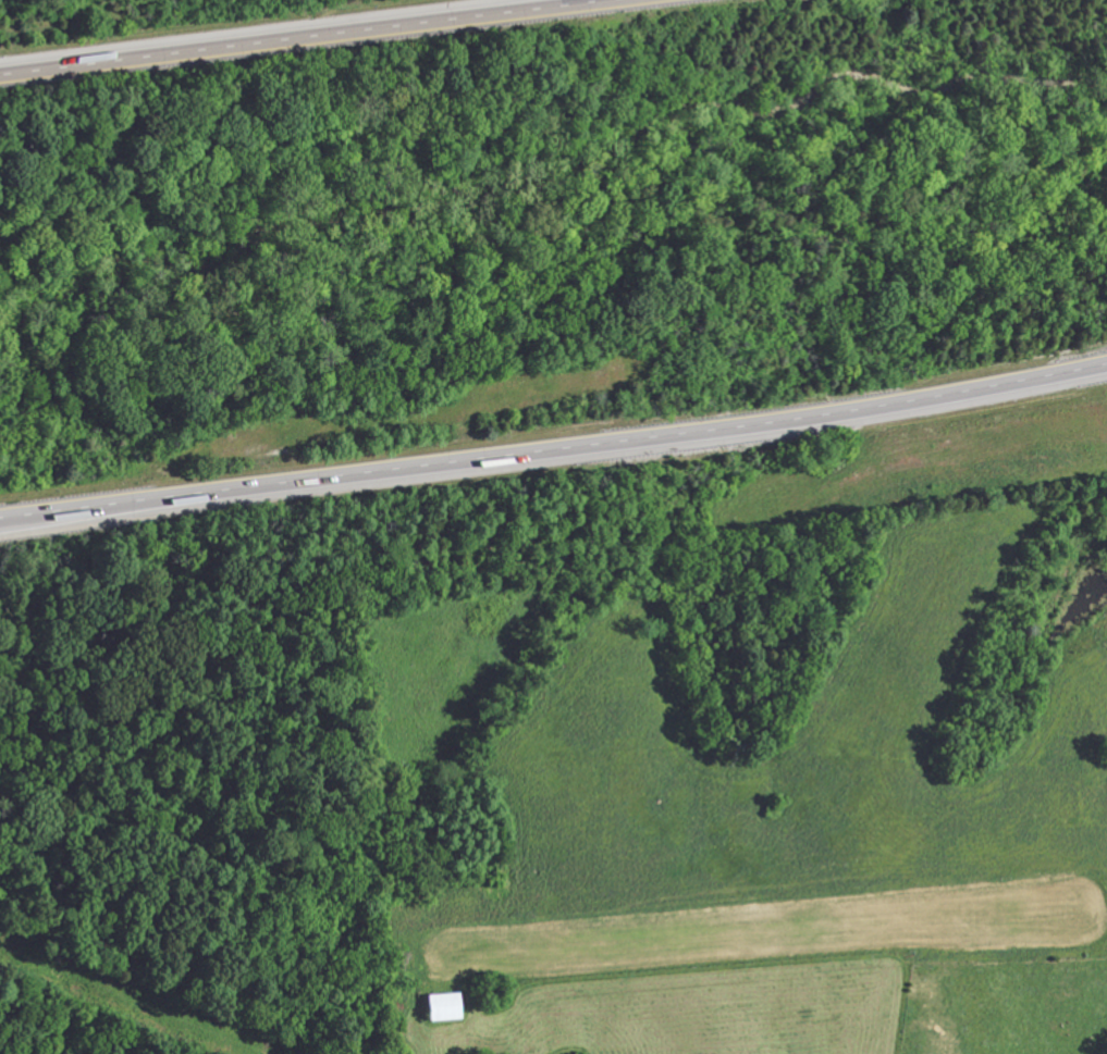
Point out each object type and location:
road: (276, 35)
road: (554, 452)
building: (440, 1005)

